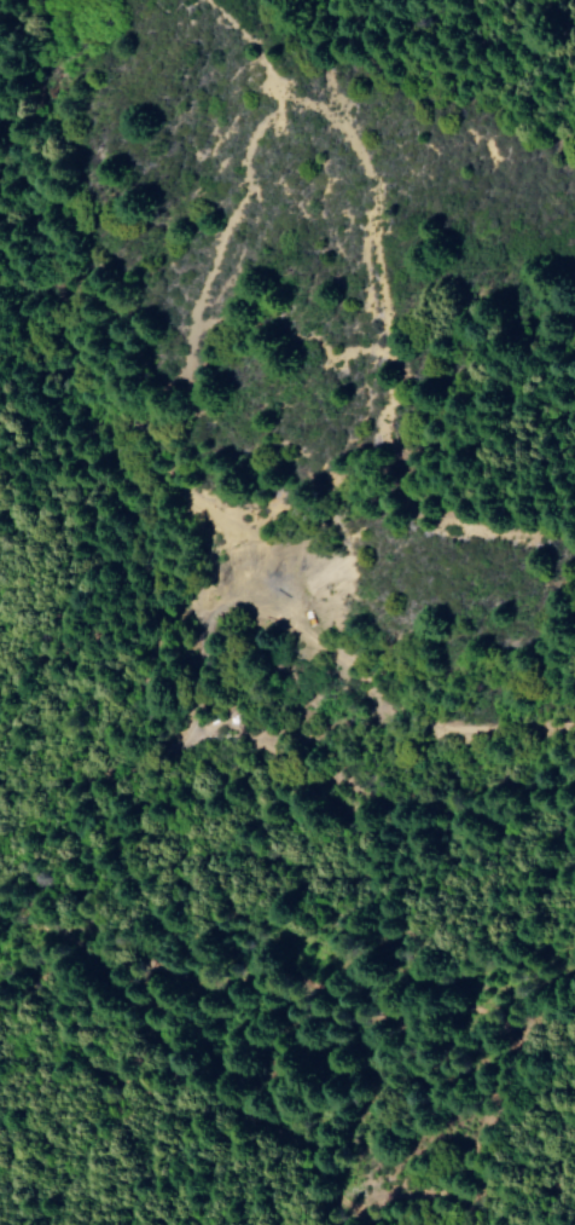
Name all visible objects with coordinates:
road: (277, 746)
road: (279, 930)
road: (565, 1213)

